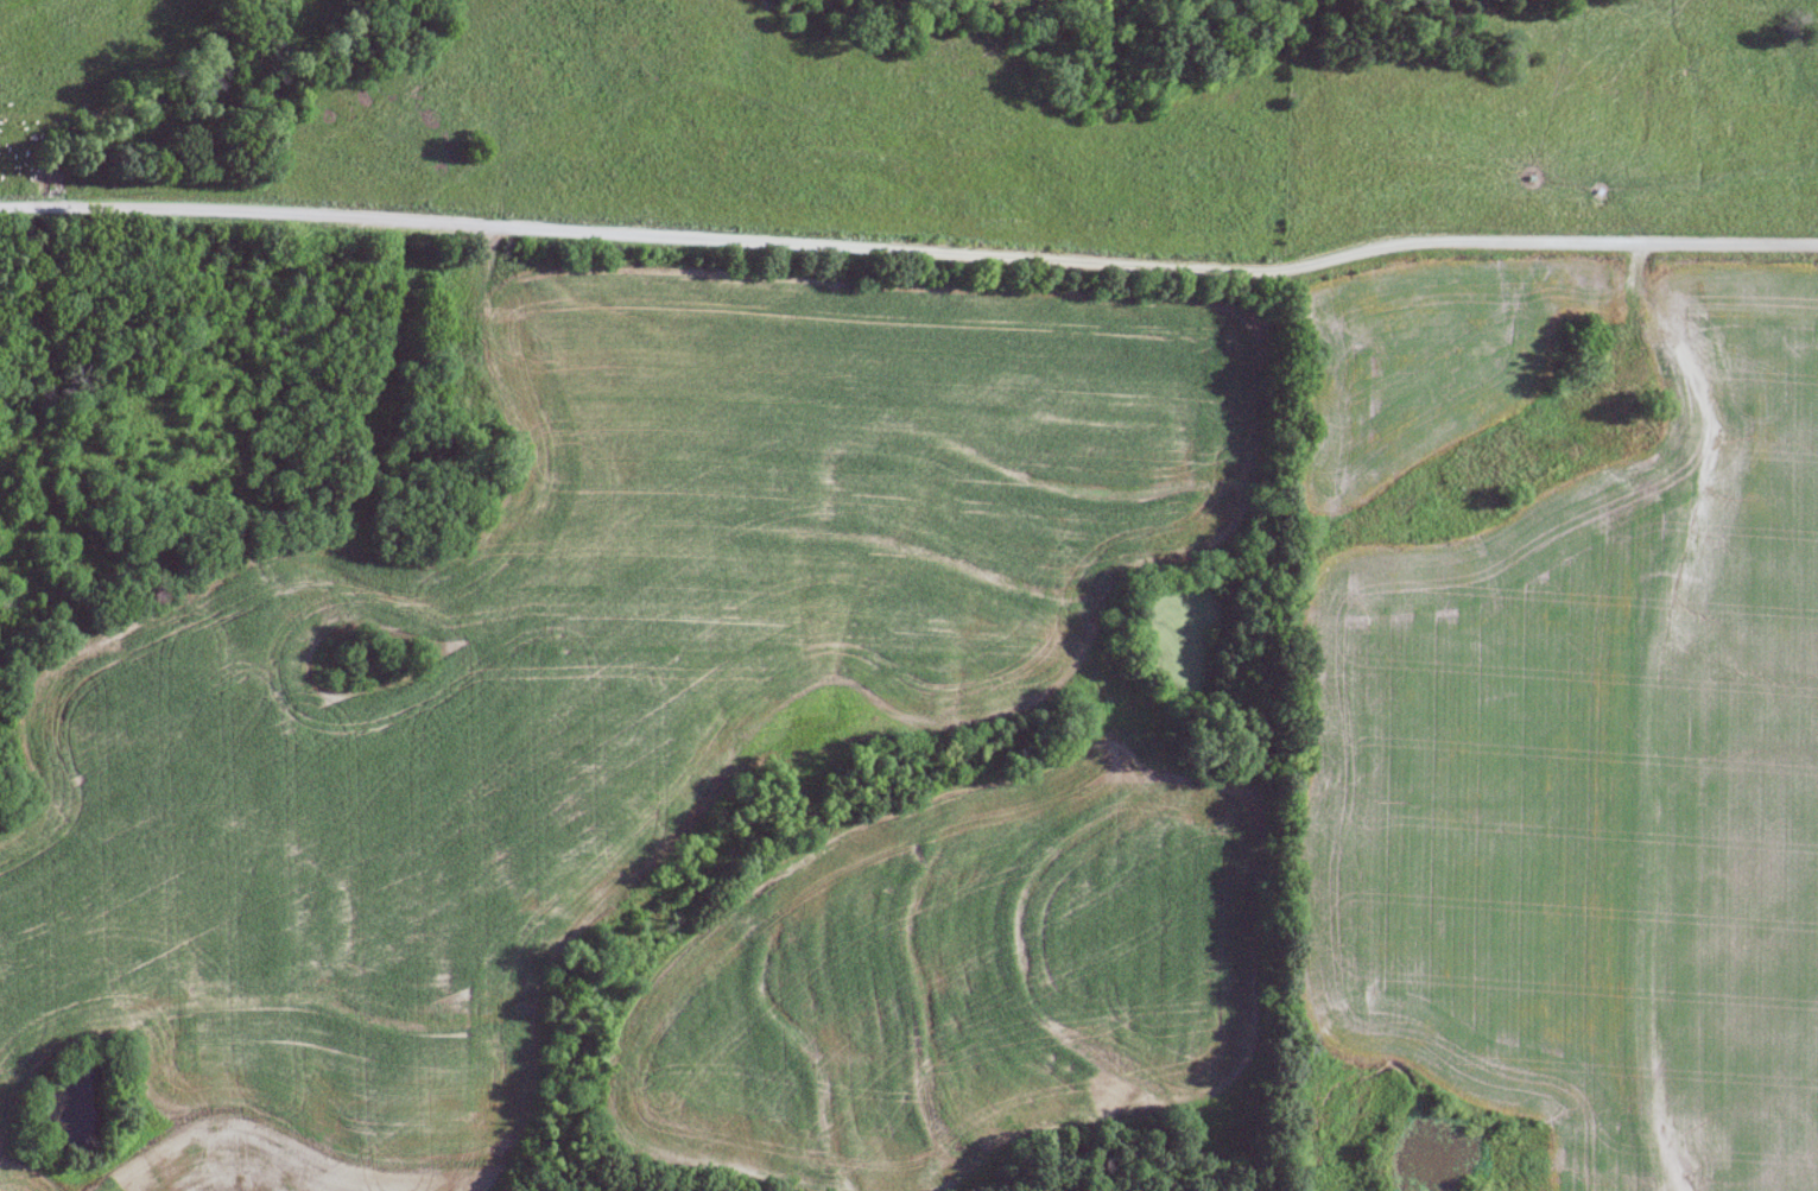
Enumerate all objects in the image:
road: (910, 252)

